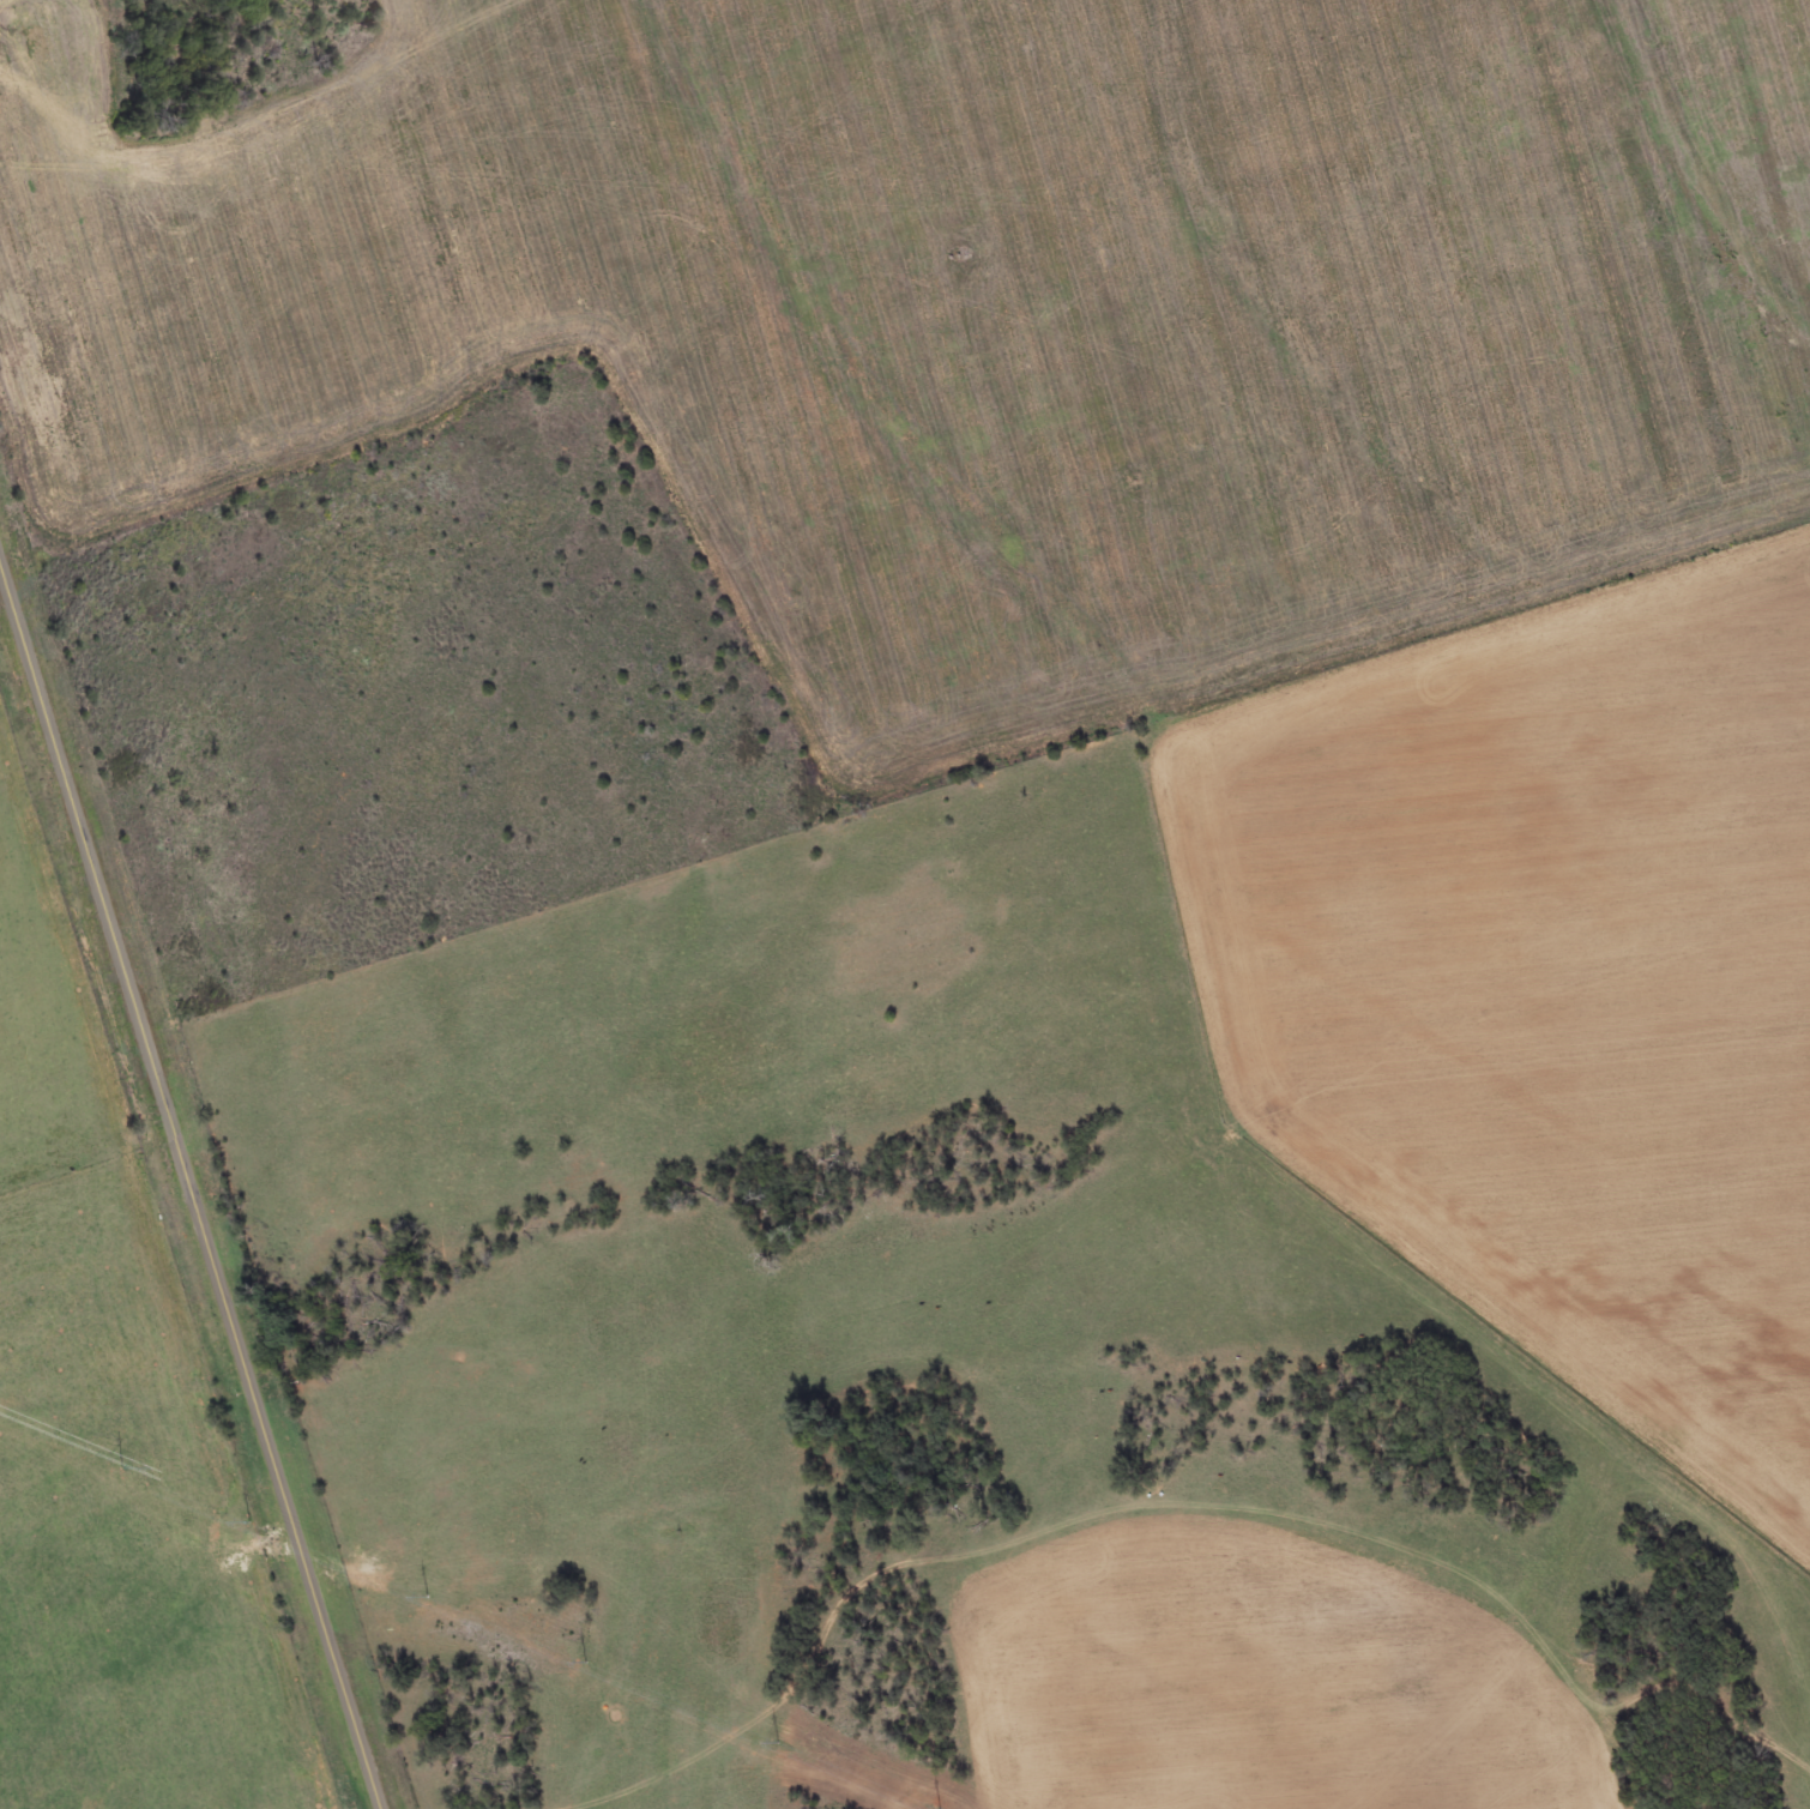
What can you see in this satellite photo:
road: (186, 1184)

